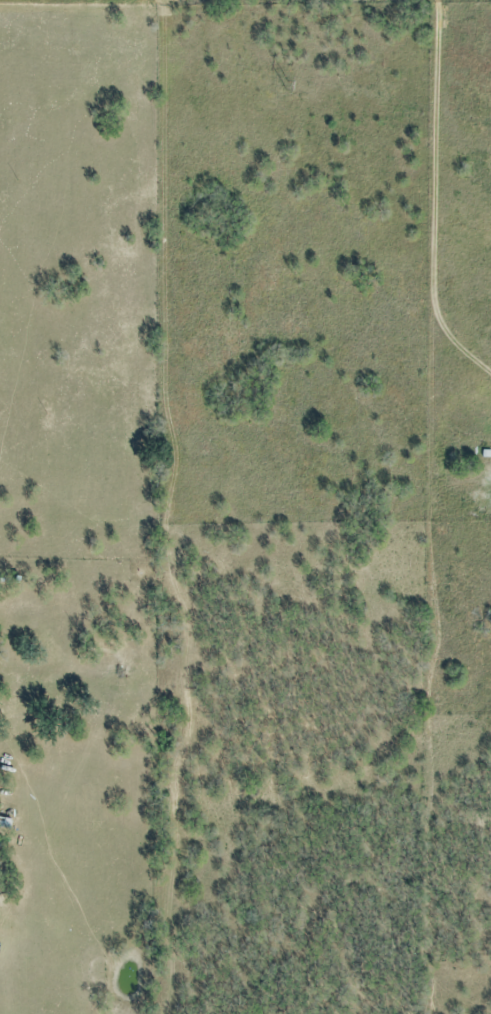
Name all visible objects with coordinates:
power tower: (285, 87)
road: (438, 149)
road: (458, 337)
road: (431, 388)
road: (34, 668)
building: (4, 825)

